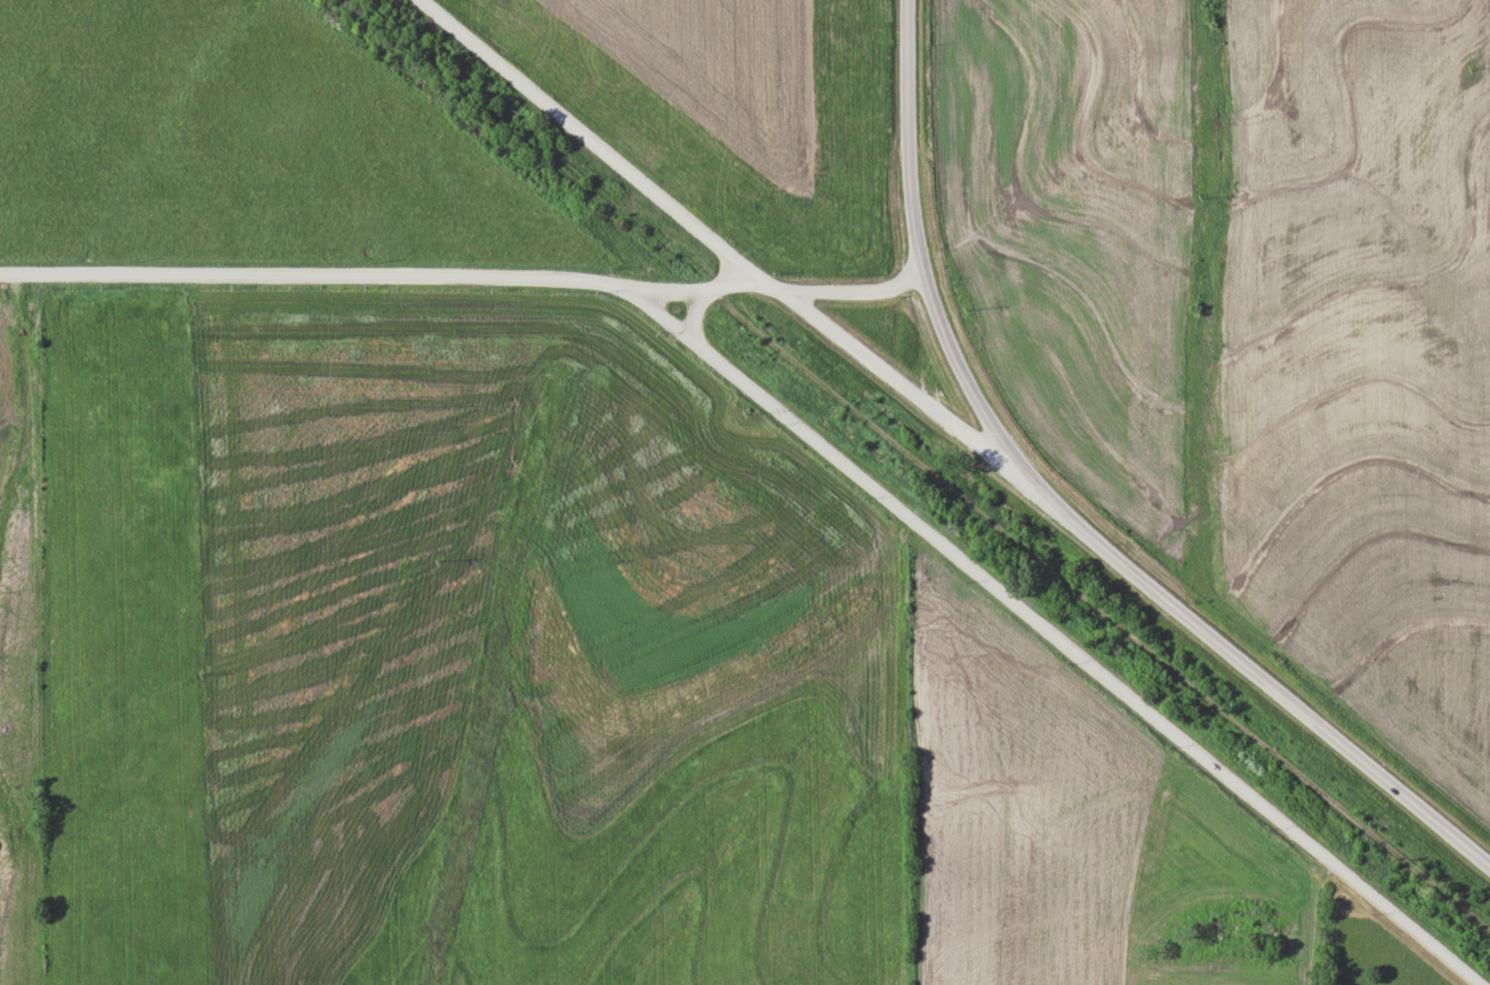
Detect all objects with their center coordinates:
road: (653, 196)
road: (720, 283)
road: (658, 297)
road: (693, 325)
road: (917, 400)
road: (809, 439)
road: (1058, 515)
building: (1301, 805)

